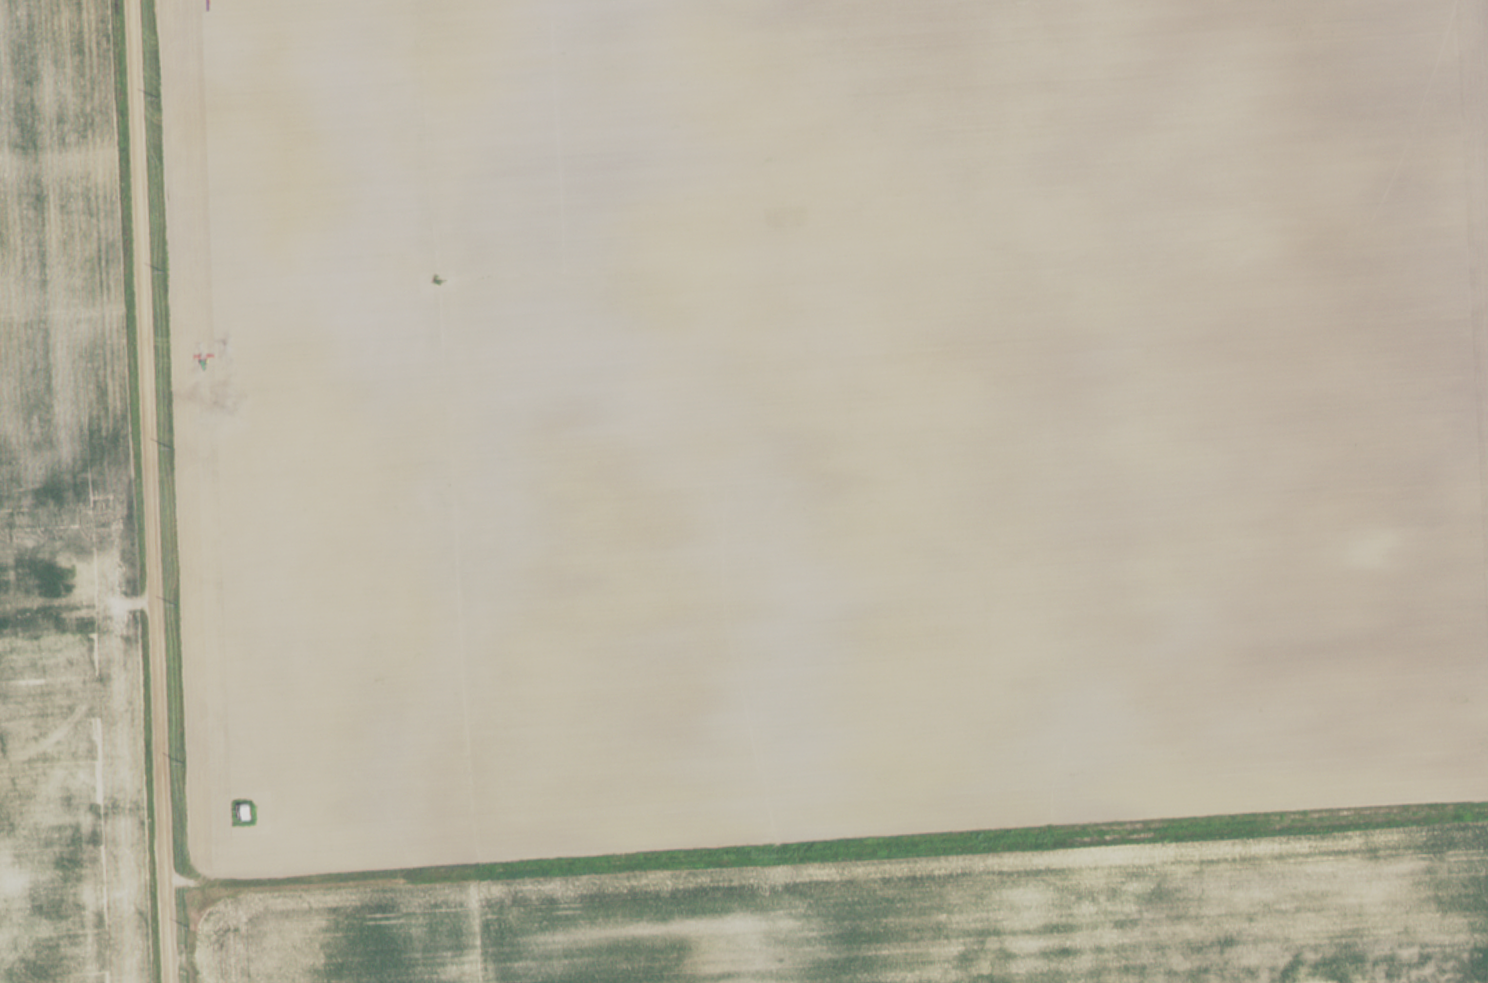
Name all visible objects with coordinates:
road: (147, 491)
building: (88, 579)
building: (244, 811)

